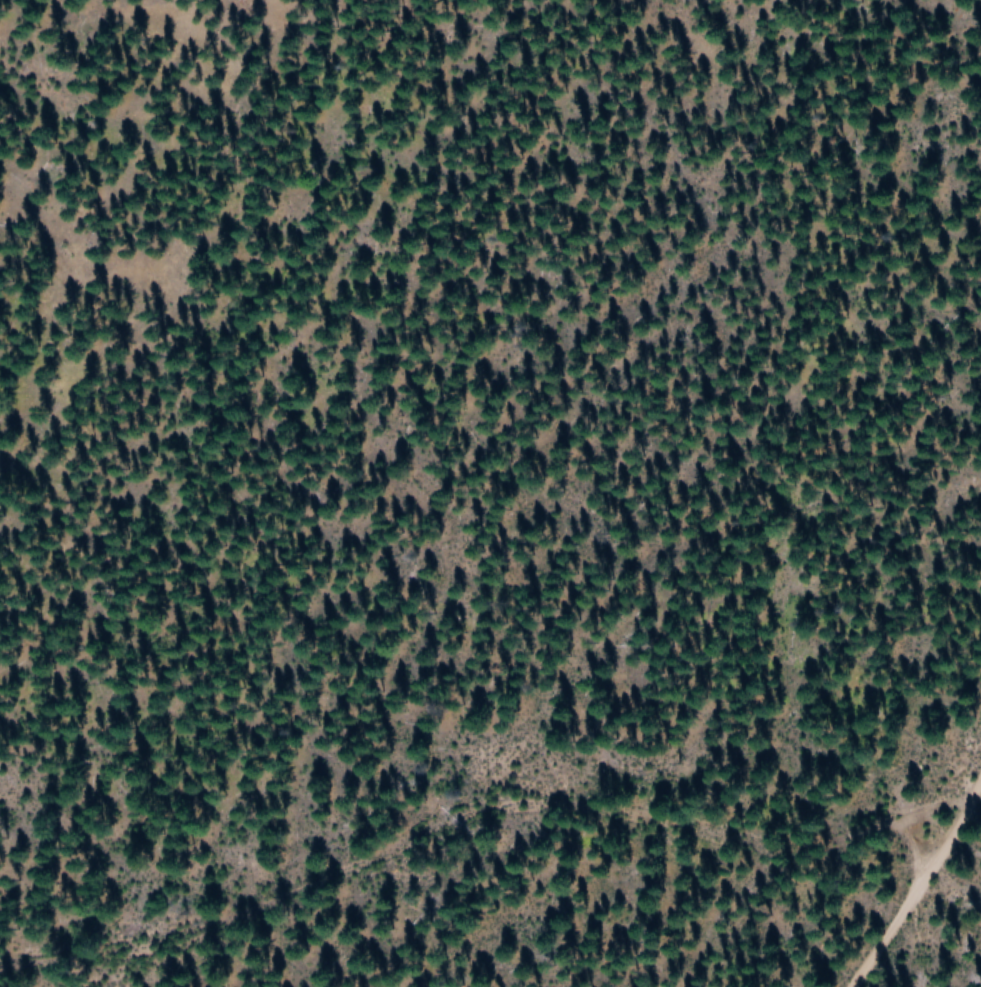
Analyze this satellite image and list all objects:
road: (921, 886)

